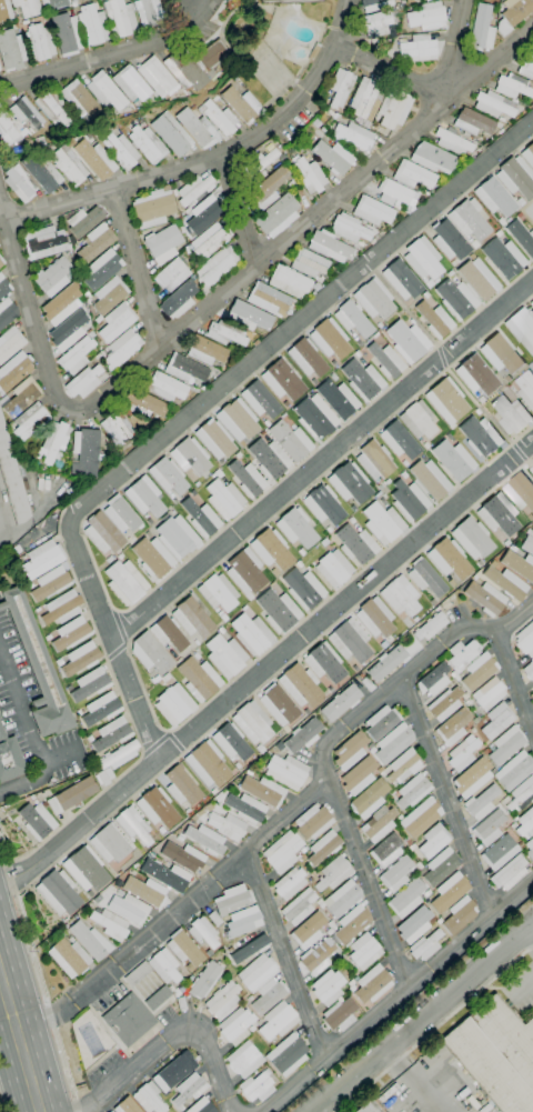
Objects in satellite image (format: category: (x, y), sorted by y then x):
building: (80, 0)
building: (424, 0)
building: (428, 0)
building: (280, 1)
building: (52, 4)
building: (374, 4)
building: (27, 7)
building: (4, 10)
building: (150, 14)
building: (513, 14)
building: (426, 17)
building: (120, 18)
building: (378, 22)
building: (92, 24)
building: (482, 28)
building: (67, 33)
building: (39, 42)
road: (455, 48)
building: (418, 49)
building: (11, 50)
road: (113, 53)
building: (213, 54)
building: (526, 67)
building: (0, 69)
building: (185, 69)
road: (393, 72)
building: (157, 78)
building: (131, 84)
building: (340, 87)
building: (513, 87)
building: (105, 92)
building: (365, 99)
building: (80, 101)
building: (243, 104)
building: (492, 104)
building: (51, 107)
building: (393, 109)
building: (26, 113)
building: (221, 118)
building: (473, 122)
building: (8, 129)
building: (198, 129)
building: (171, 133)
building: (354, 136)
building: (452, 141)
building: (148, 144)
building: (121, 150)
building: (527, 154)
road: (213, 158)
building: (333, 158)
building: (432, 158)
building: (95, 159)
building: (69, 166)
building: (259, 166)
building: (41, 172)
building: (309, 176)
building: (413, 176)
building: (516, 177)
building: (20, 183)
building: (266, 189)
building: (194, 190)
building: (395, 193)
building: (494, 197)
building: (153, 208)
building: (532, 209)
road: (239, 211)
building: (372, 211)
building: (203, 213)
building: (276, 216)
building: (469, 220)
building: (532, 220)
building: (83, 221)
building: (350, 229)
building: (521, 237)
building: (210, 240)
building: (450, 240)
building: (43, 242)
building: (95, 242)
building: (162, 243)
building: (329, 247)
building: (422, 258)
building: (503, 258)
building: (1, 261)
building: (309, 263)
building: (217, 266)
road: (137, 268)
building: (101, 269)
building: (171, 274)
building: (53, 277)
building: (479, 278)
building: (402, 279)
building: (289, 281)
building: (3, 287)
building: (109, 295)
road: (222, 295)
building: (269, 299)
building: (373, 299)
building: (455, 299)
building: (178, 300)
building: (532, 301)
building: (532, 303)
building: (61, 304)
building: (7, 312)
building: (248, 315)
building: (353, 319)
building: (435, 319)
building: (117, 322)
building: (522, 328)
building: (70, 330)
building: (225, 333)
building: (330, 339)
building: (408, 341)
building: (10, 343)
building: (122, 348)
building: (205, 350)
building: (501, 354)
building: (76, 355)
road: (253, 358)
building: (306, 358)
building: (385, 360)
building: (184, 369)
building: (16, 370)
building: (476, 375)
building: (362, 379)
building: (282, 380)
building: (83, 382)
building: (165, 387)
building: (525, 389)
building: (22, 397)
building: (260, 399)
building: (336, 399)
building: (447, 401)
building: (142, 403)
building: (511, 415)
building: (315, 417)
building: (31, 420)
building: (238, 420)
building: (419, 420)
building: (118, 429)
building: (480, 437)
building: (214, 439)
building: (54, 440)
building: (400, 440)
building: (290, 441)
building: (86, 452)
road: (322, 455)
building: (190, 457)
building: (269, 458)
building: (452, 459)
building: (374, 460)
building: (532, 461)
building: (532, 470)
building: (168, 475)
building: (12, 478)
building: (247, 479)
building: (430, 479)
building: (350, 482)
building: (520, 491)
building: (144, 497)
building: (223, 499)
building: (409, 500)
building: (324, 505)
building: (120, 514)
building: (499, 514)
building: (200, 518)
road: (4, 522)
building: (382, 523)
building: (295, 528)
building: (102, 533)
building: (472, 538)
building: (355, 544)
building: (527, 544)
building: (272, 549)
building: (42, 559)
building: (152, 559)
building: (449, 559)
building: (519, 565)
building: (333, 568)
building: (245, 571)
building: (425, 578)
building: (125, 582)
building: (51, 583)
building: (506, 583)
building: (303, 588)
building: (219, 592)
building: (400, 595)
building: (485, 598)
building: (63, 608)
building: (278, 611)
building: (375, 617)
building: (192, 618)
road: (516, 618)
building: (431, 627)
building: (72, 633)
building: (168, 633)
building: (252, 633)
building: (525, 640)
building: (351, 641)
building: (411, 648)
building: (150, 653)
building: (225, 655)
building: (462, 655)
building: (81, 658)
building: (325, 662)
building: (388, 663)
building: (38, 668)
road: (269, 669)
building: (479, 671)
building: (529, 671)
building: (199, 679)
building: (433, 680)
building: (91, 683)
building: (301, 685)
building: (489, 693)
road: (135, 698)
building: (531, 698)
building: (341, 702)
building: (174, 704)
building: (279, 704)
building: (444, 704)
building: (102, 709)
building: (497, 720)
building: (381, 721)
building: (253, 722)
road: (343, 724)
building: (452, 728)
building: (2, 733)
road: (31, 733)
building: (112, 733)
building: (301, 737)
building: (231, 742)
building: (393, 743)
building: (506, 744)
building: (350, 751)
building: (462, 753)
building: (119, 755)
building: (10, 760)
building: (208, 764)
building: (403, 765)
building: (514, 770)
building: (286, 772)
building: (104, 775)
building: (359, 775)
building: (472, 778)
building: (182, 787)
building: (263, 790)
building: (412, 791)
building: (72, 794)
road: (447, 794)
building: (522, 794)
building: (369, 799)
building: (481, 803)
building: (158, 808)
building: (247, 808)
building: (420, 818)
building: (37, 821)
building: (313, 821)
building: (132, 823)
building: (525, 823)
building: (378, 824)
building: (229, 827)
building: (489, 828)
building: (205, 839)
building: (433, 840)
building: (110, 844)
building: (324, 846)
building: (530, 848)
building: (386, 851)
building: (282, 852)
building: (500, 852)
building: (183, 856)
building: (441, 866)
building: (84, 870)
building: (333, 873)
building: (510, 873)
building: (395, 874)
building: (165, 875)
building: (289, 883)
building: (145, 891)
building: (449, 891)
building: (59, 892)
building: (343, 899)
building: (405, 899)
building: (231, 900)
building: (299, 906)
building: (129, 909)
road: (175, 910)
building: (459, 914)
building: (214, 919)
building: (243, 920)
building: (351, 923)
building: (110, 924)
building: (414, 925)
building: (308, 930)
building: (203, 932)
road: (530, 938)
building: (91, 940)
building: (425, 945)
building: (184, 948)
building: (249, 949)
building: (364, 951)
road: (285, 954)
building: (316, 956)
building: (69, 958)
building: (164, 966)
building: (138, 973)
building: (258, 973)
road: (39, 974)
building: (205, 980)
building: (373, 984)
road: (523, 986)
building: (328, 988)
road: (499, 988)
road: (399, 994)
building: (268, 995)
building: (158, 998)
building: (222, 1000)
building: (181, 1003)
building: (340, 1014)
building: (128, 1019)
road: (426, 1020)
building: (278, 1021)
building: (237, 1025)
road: (434, 1029)
road: (171, 1036)
road: (21, 1039)
building: (288, 1053)
building: (495, 1054)
building: (244, 1060)
building: (173, 1071)
road: (413, 1080)
building: (257, 1086)
building: (189, 1089)
building: (149, 1098)
building: (127, 1105)
building: (201, 1106)
building: (366, 1108)
road: (326, 1110)
building: (109, 1111)

